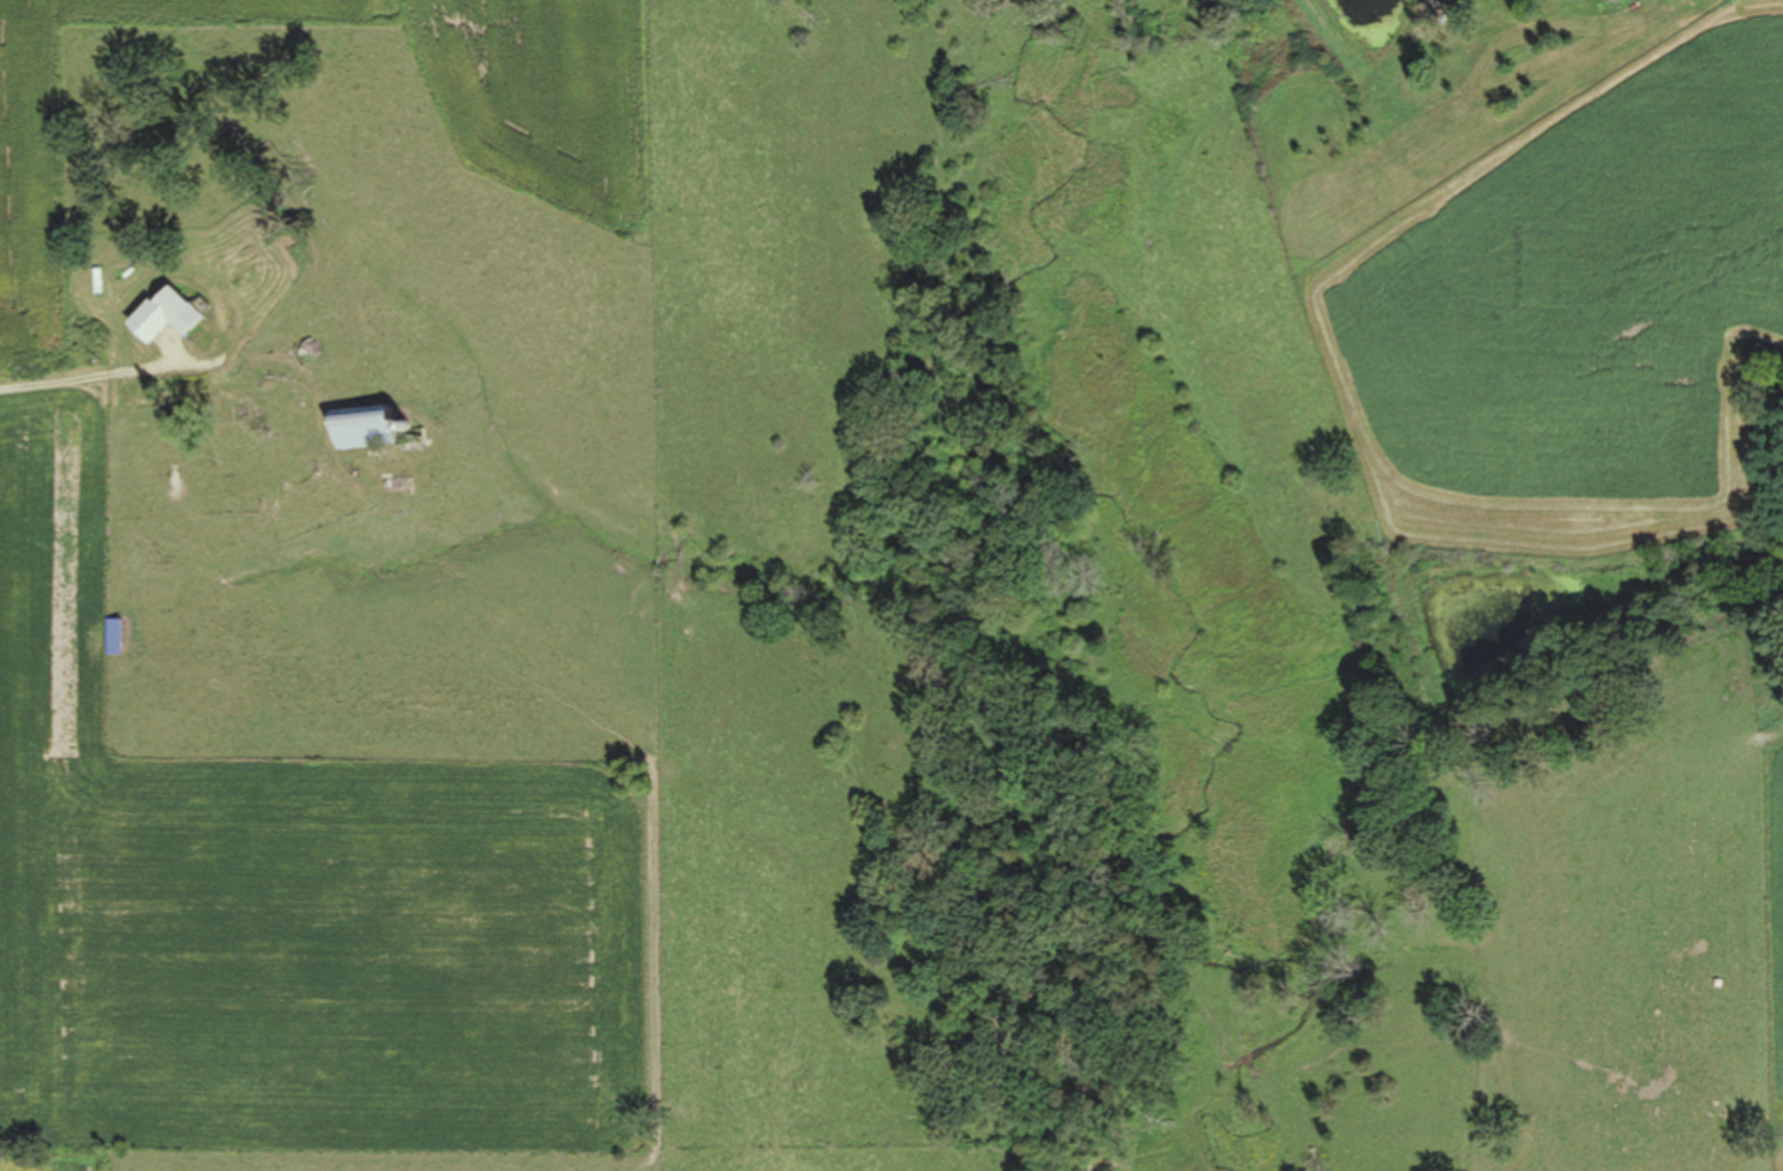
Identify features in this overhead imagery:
road: (101, 384)
building: (360, 430)
building: (114, 638)

